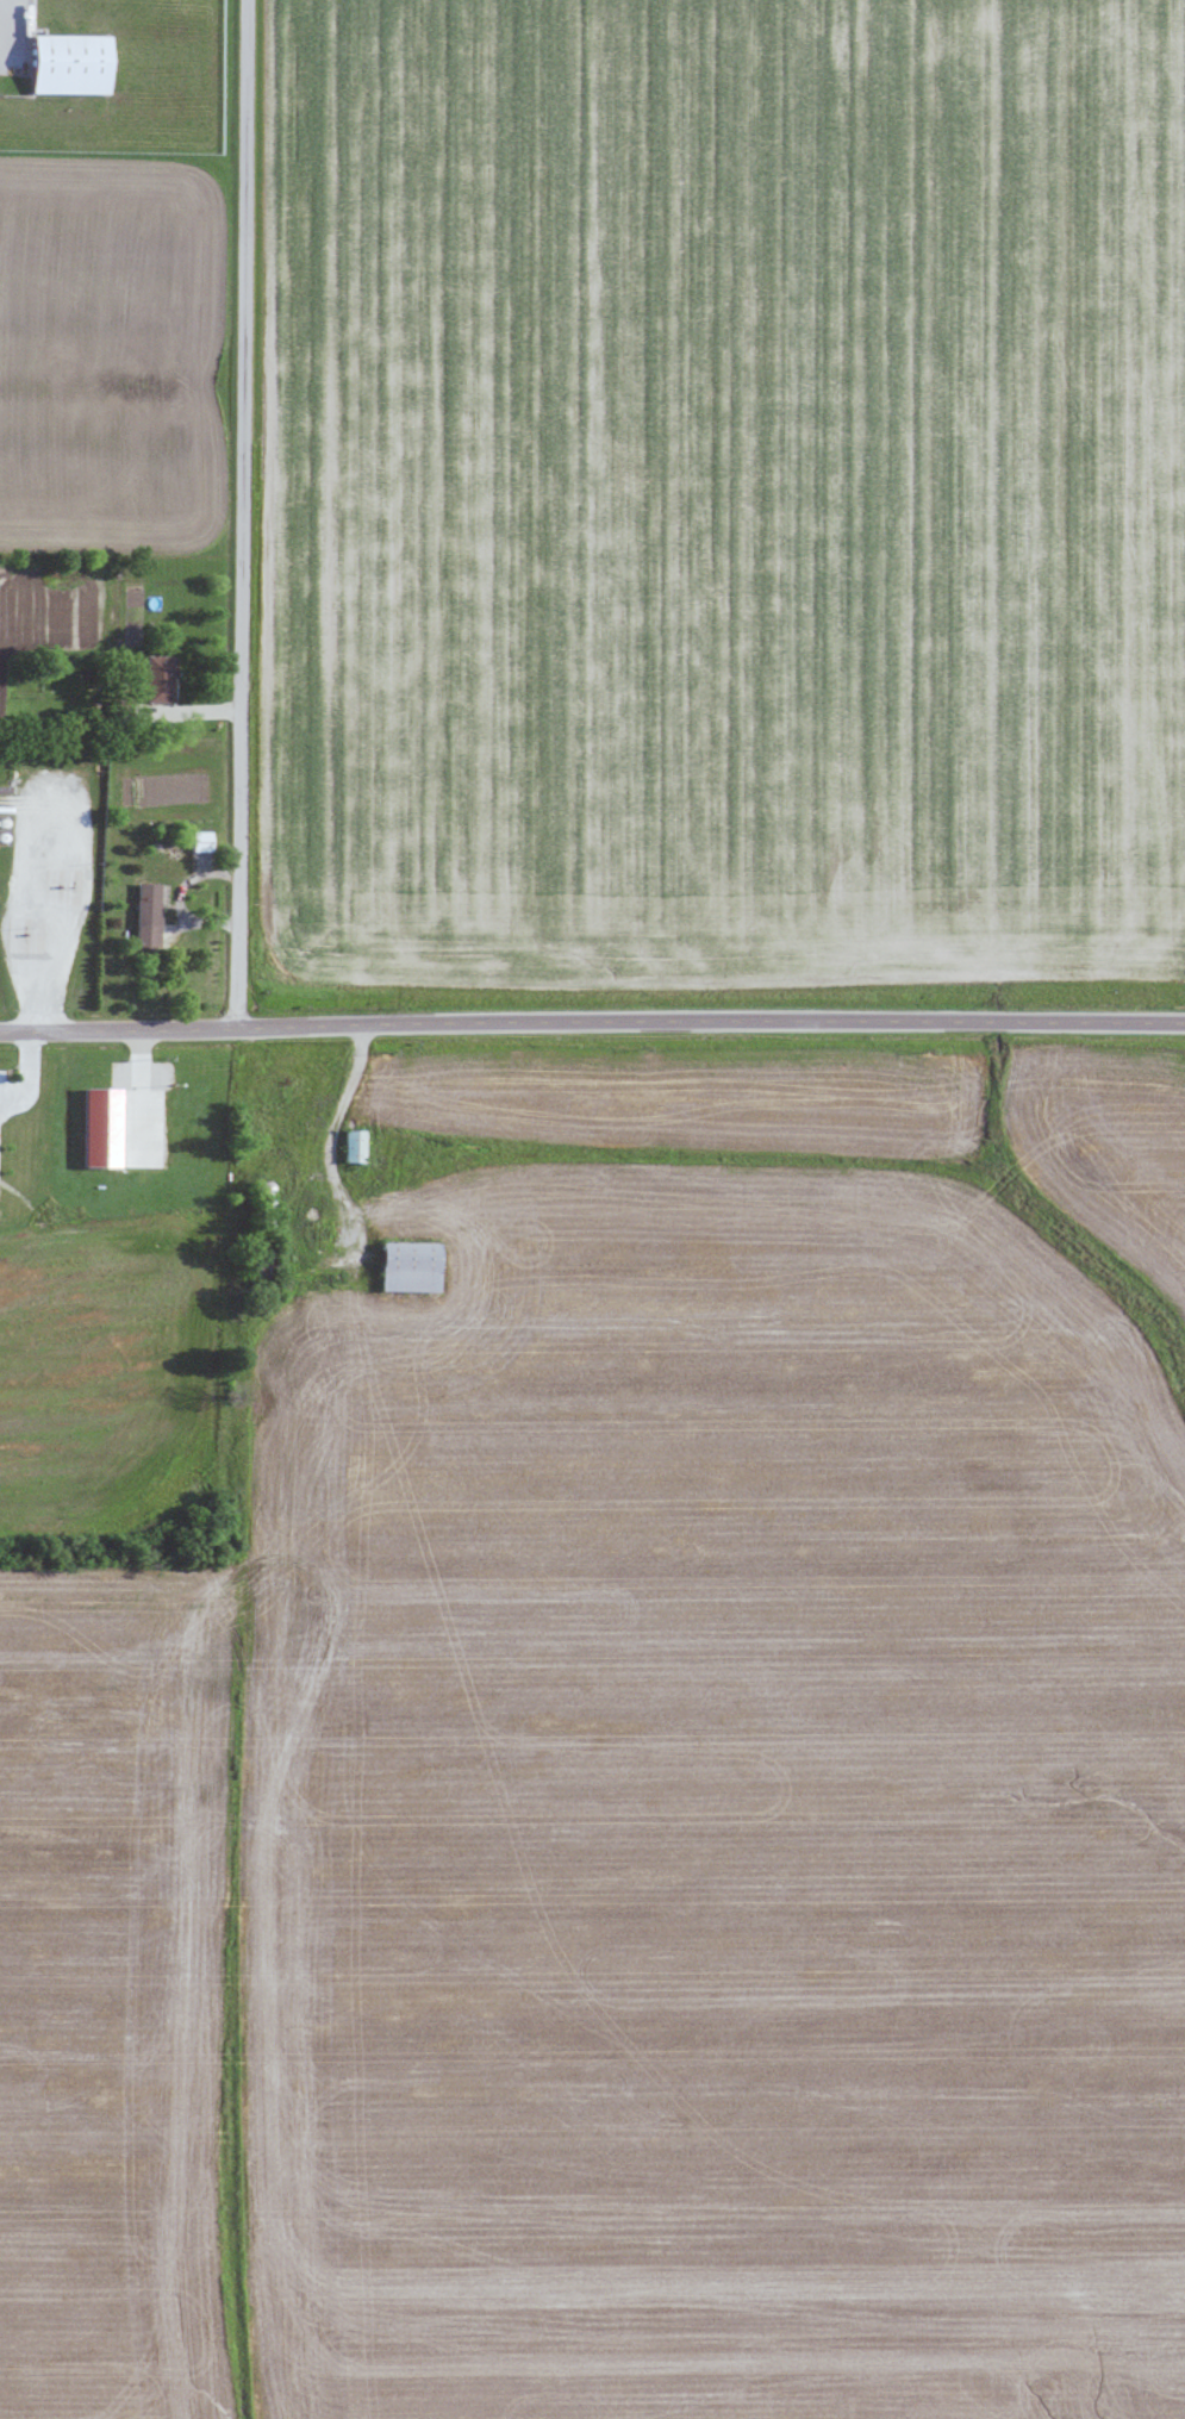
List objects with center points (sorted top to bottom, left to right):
building: (67, 63)
road: (242, 515)
building: (157, 678)
building: (200, 841)
building: (146, 914)
road: (592, 1021)
building: (99, 1127)
building: (353, 1145)
building: (408, 1266)

